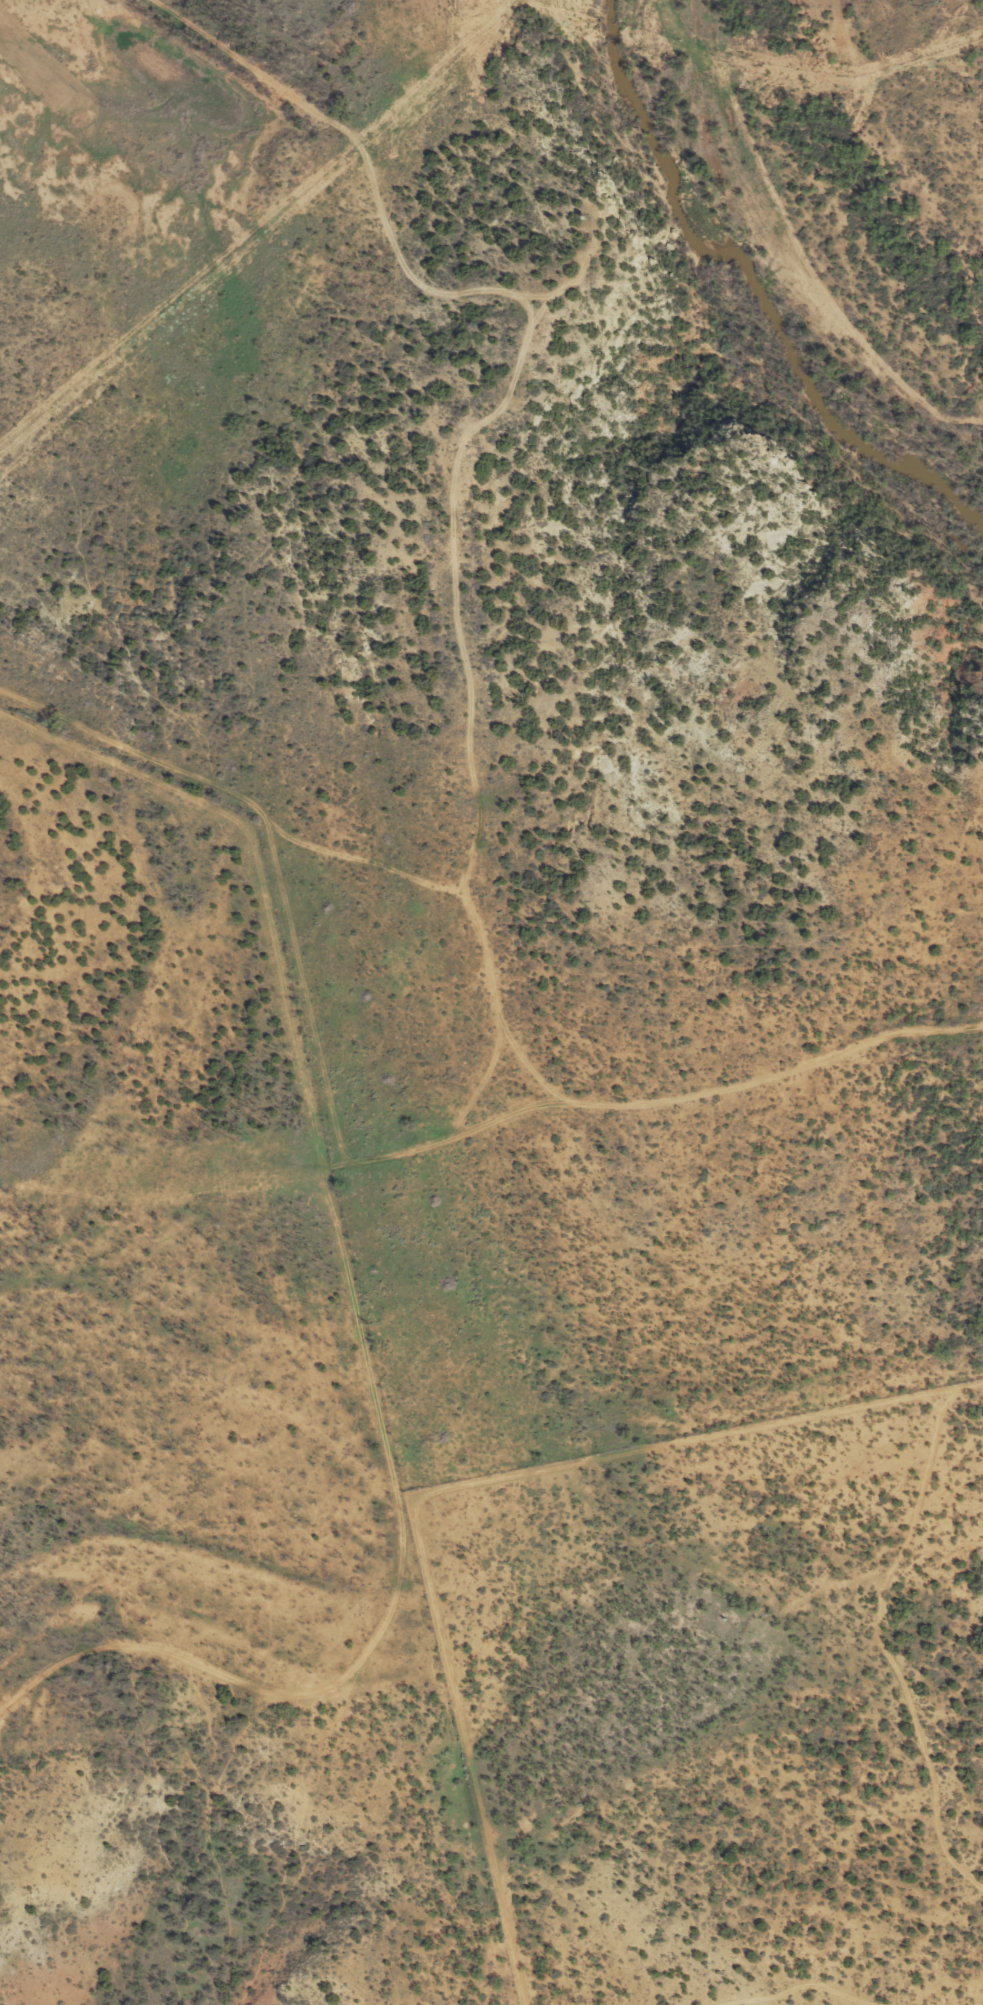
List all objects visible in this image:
river: (757, 291)

